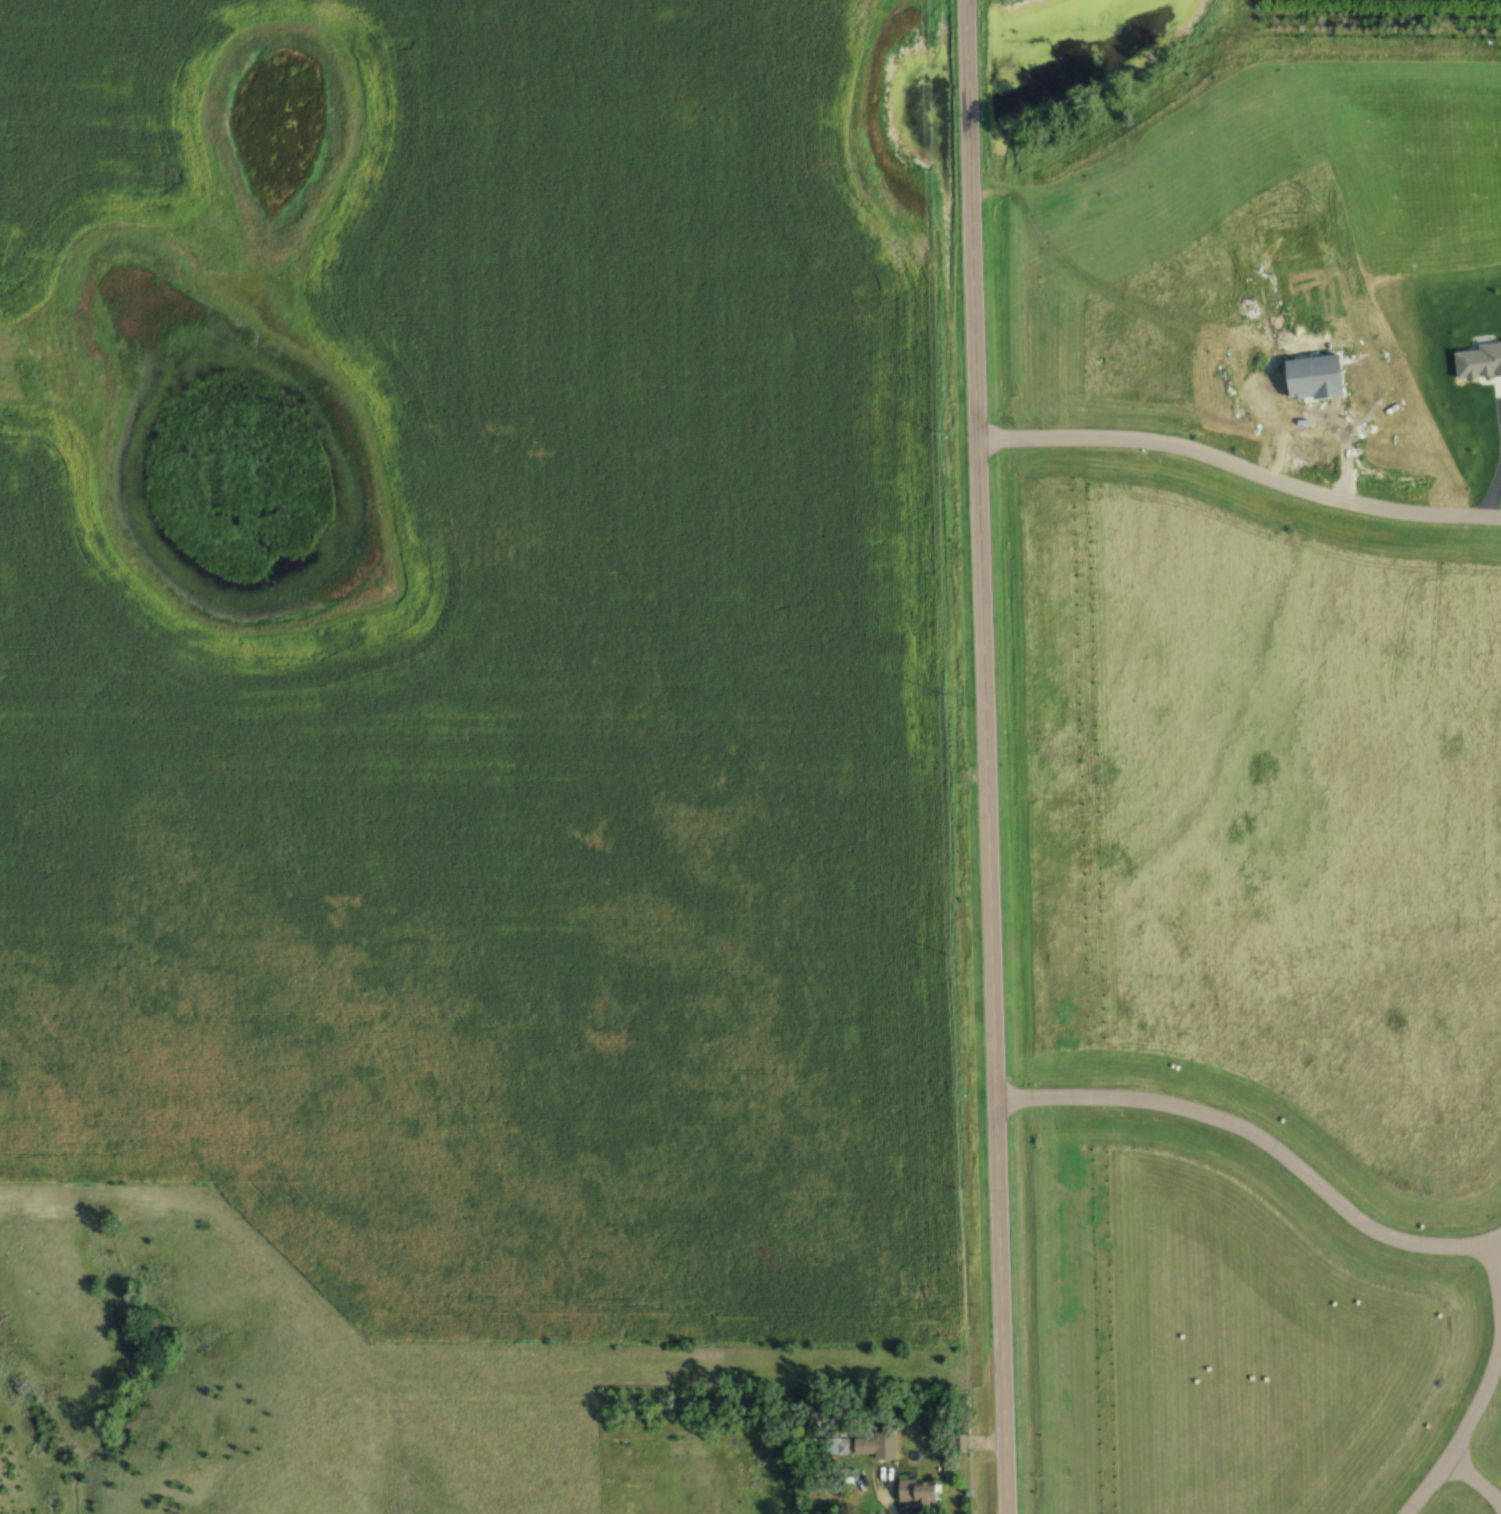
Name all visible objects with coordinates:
road: (1241, 462)
road: (1491, 490)
road: (987, 757)
road: (1266, 1135)
road: (1483, 1387)
building: (881, 1443)
building: (843, 1445)
road: (1476, 1479)
building: (926, 1491)
road: (892, 1508)

